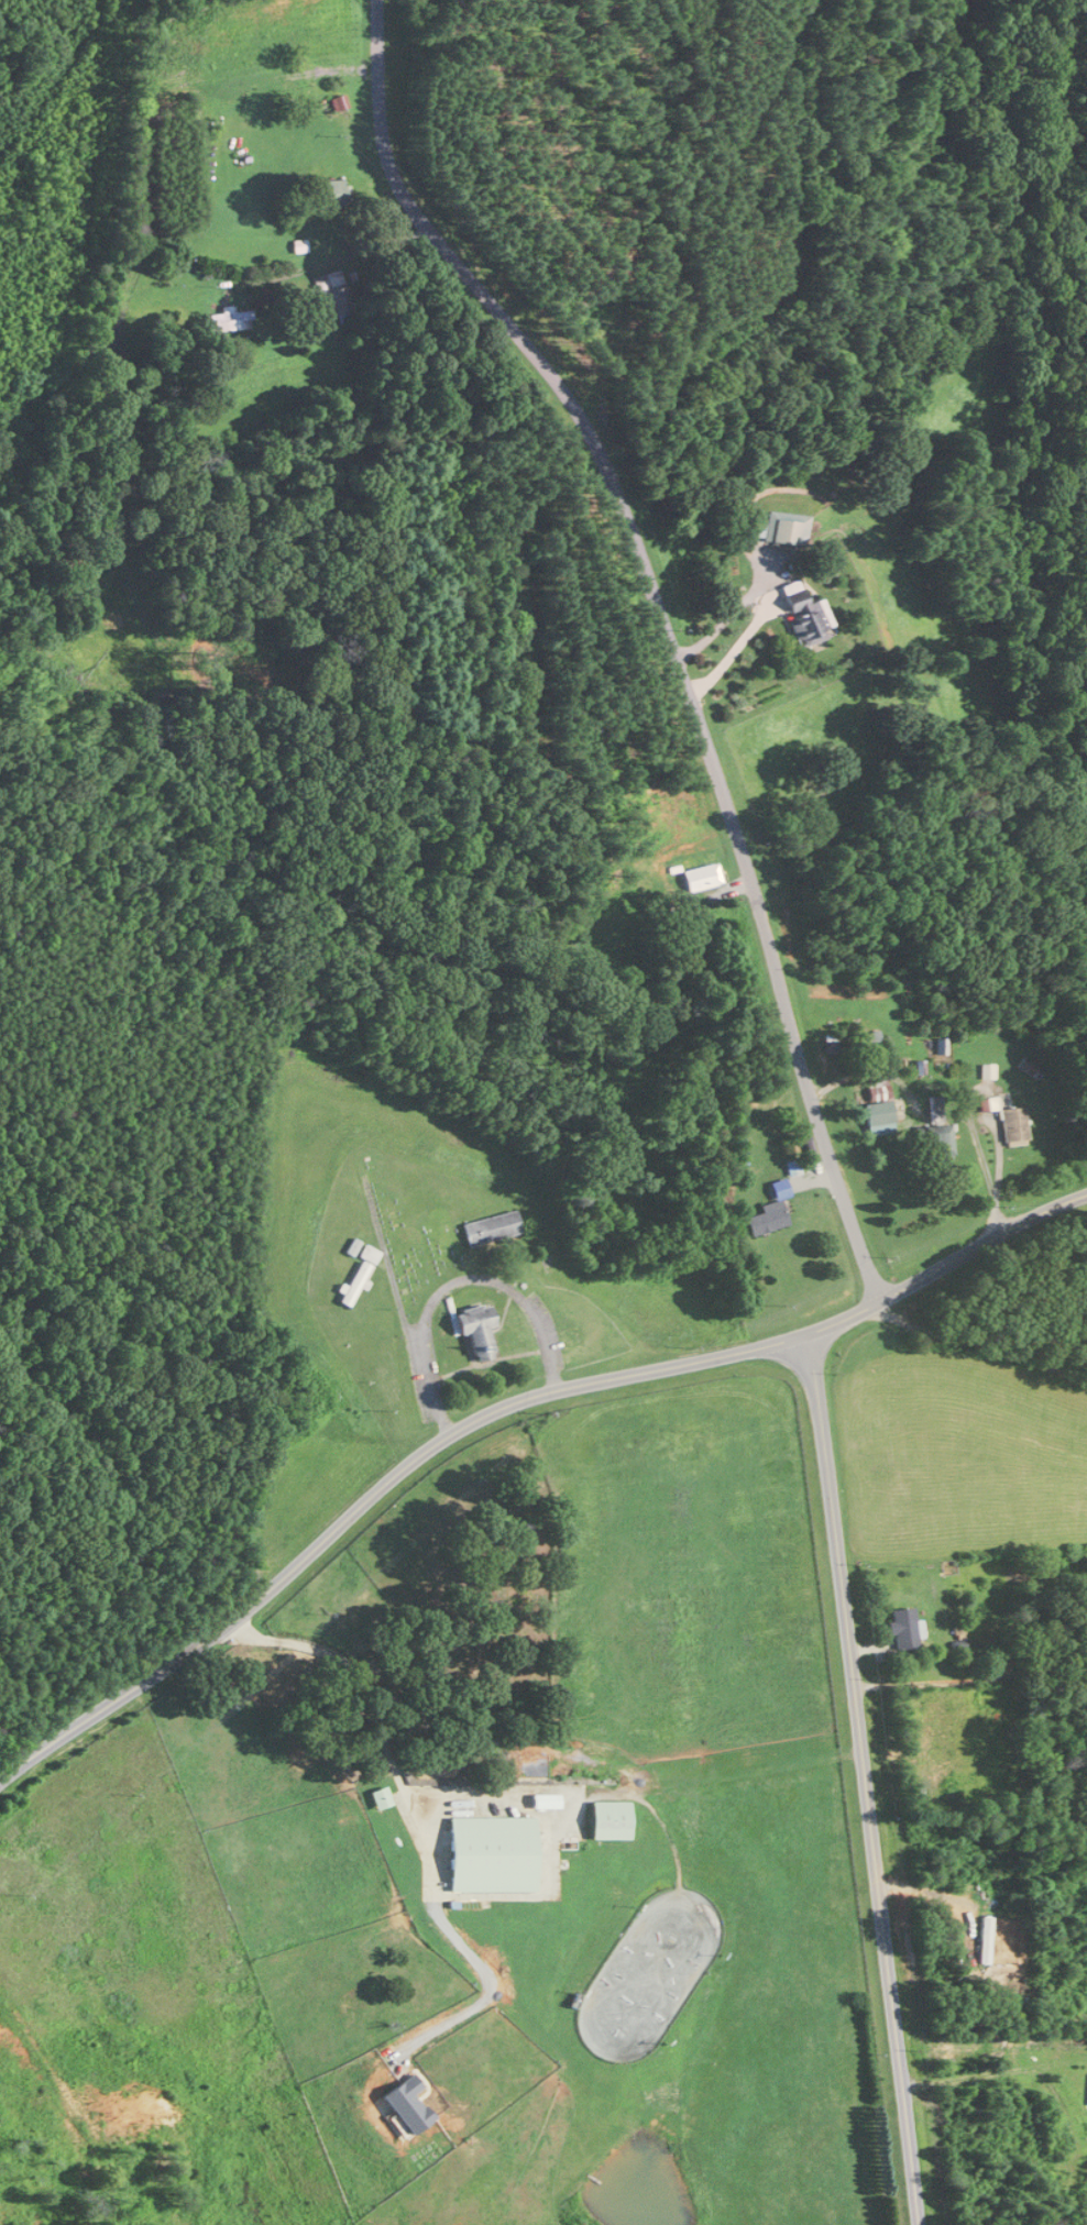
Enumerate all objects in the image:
building: (334, 192)
building: (333, 294)
building: (232, 320)
building: (780, 528)
road: (725, 616)
building: (802, 616)
road: (663, 626)
road: (731, 651)
building: (699, 877)
road: (954, 1087)
building: (877, 1112)
building: (1013, 1125)
building: (936, 1134)
building: (768, 1212)
building: (492, 1226)
building: (370, 1253)
road: (386, 1259)
road: (455, 1281)
building: (356, 1282)
road: (447, 1291)
road: (451, 1311)
building: (477, 1328)
road: (975, 1346)
road: (487, 1361)
road: (502, 1408)
building: (907, 1628)
road: (959, 1681)
road: (366, 1688)
road: (864, 1777)
building: (382, 1798)
building: (612, 1820)
building: (497, 1854)
building: (987, 1940)

